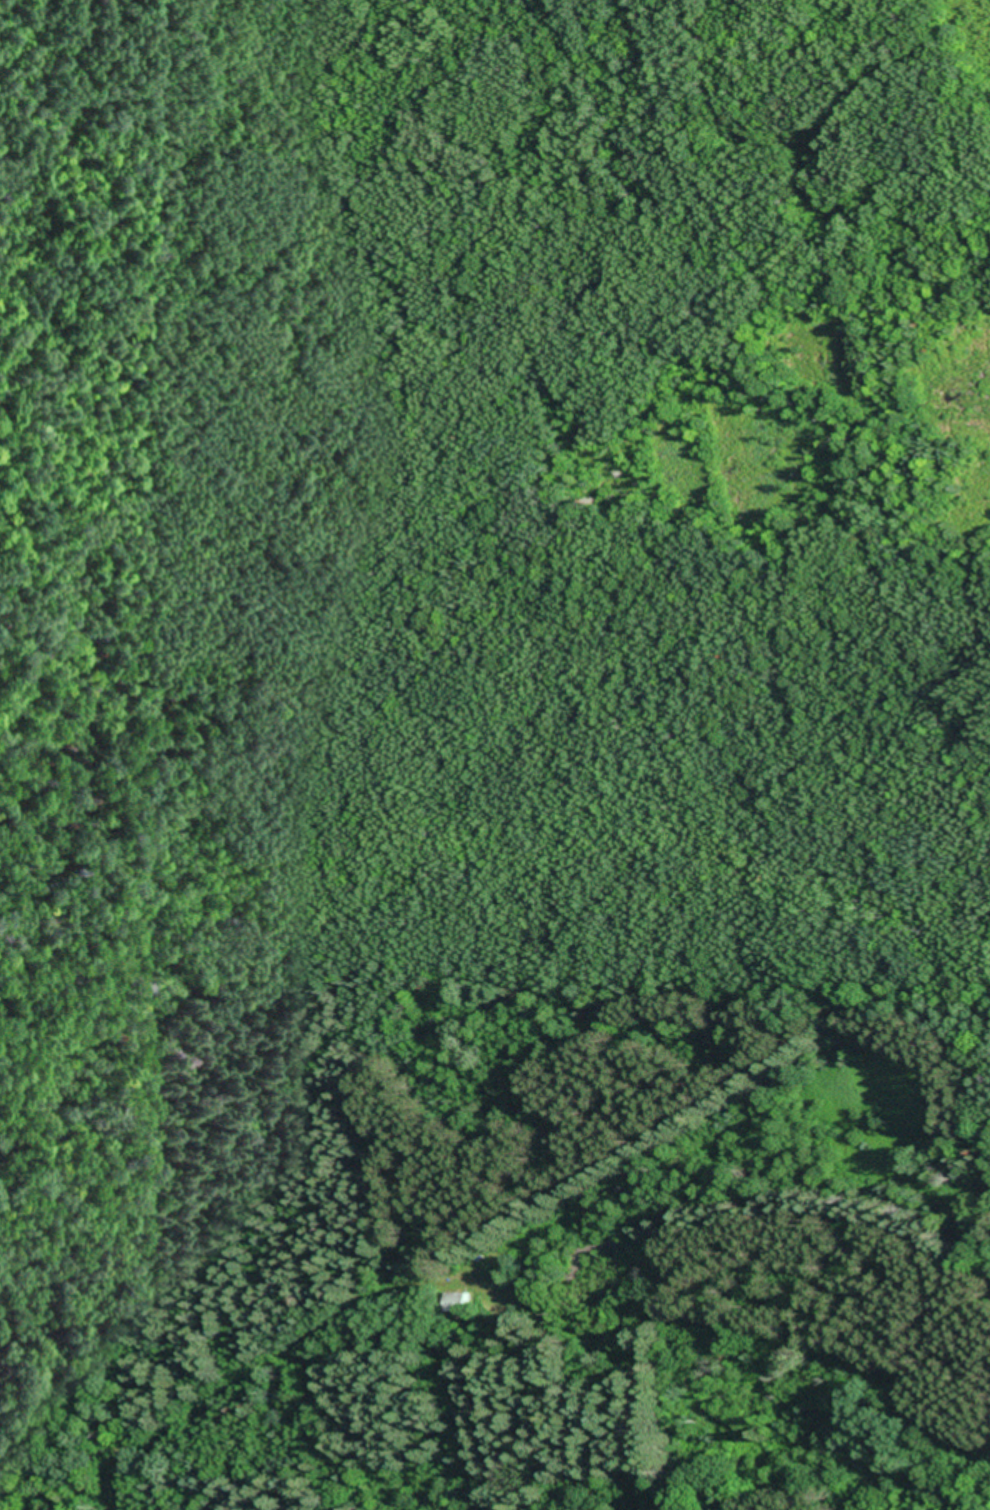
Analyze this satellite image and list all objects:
building: (464, 1300)
road: (228, 1380)

